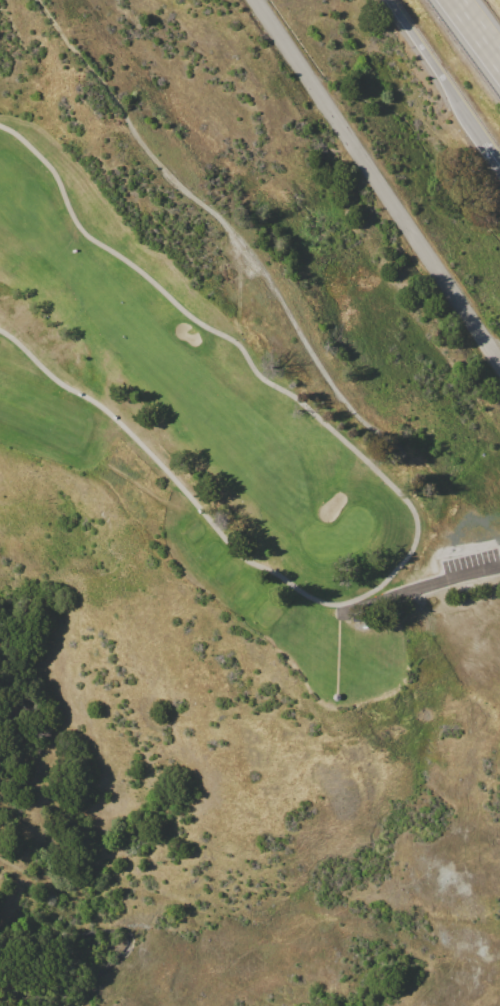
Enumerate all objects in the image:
road: (477, 30)
road: (433, 65)
road: (488, 146)
road: (378, 181)
park: (229, 462)
road: (414, 511)
park: (343, 534)
road: (434, 582)

